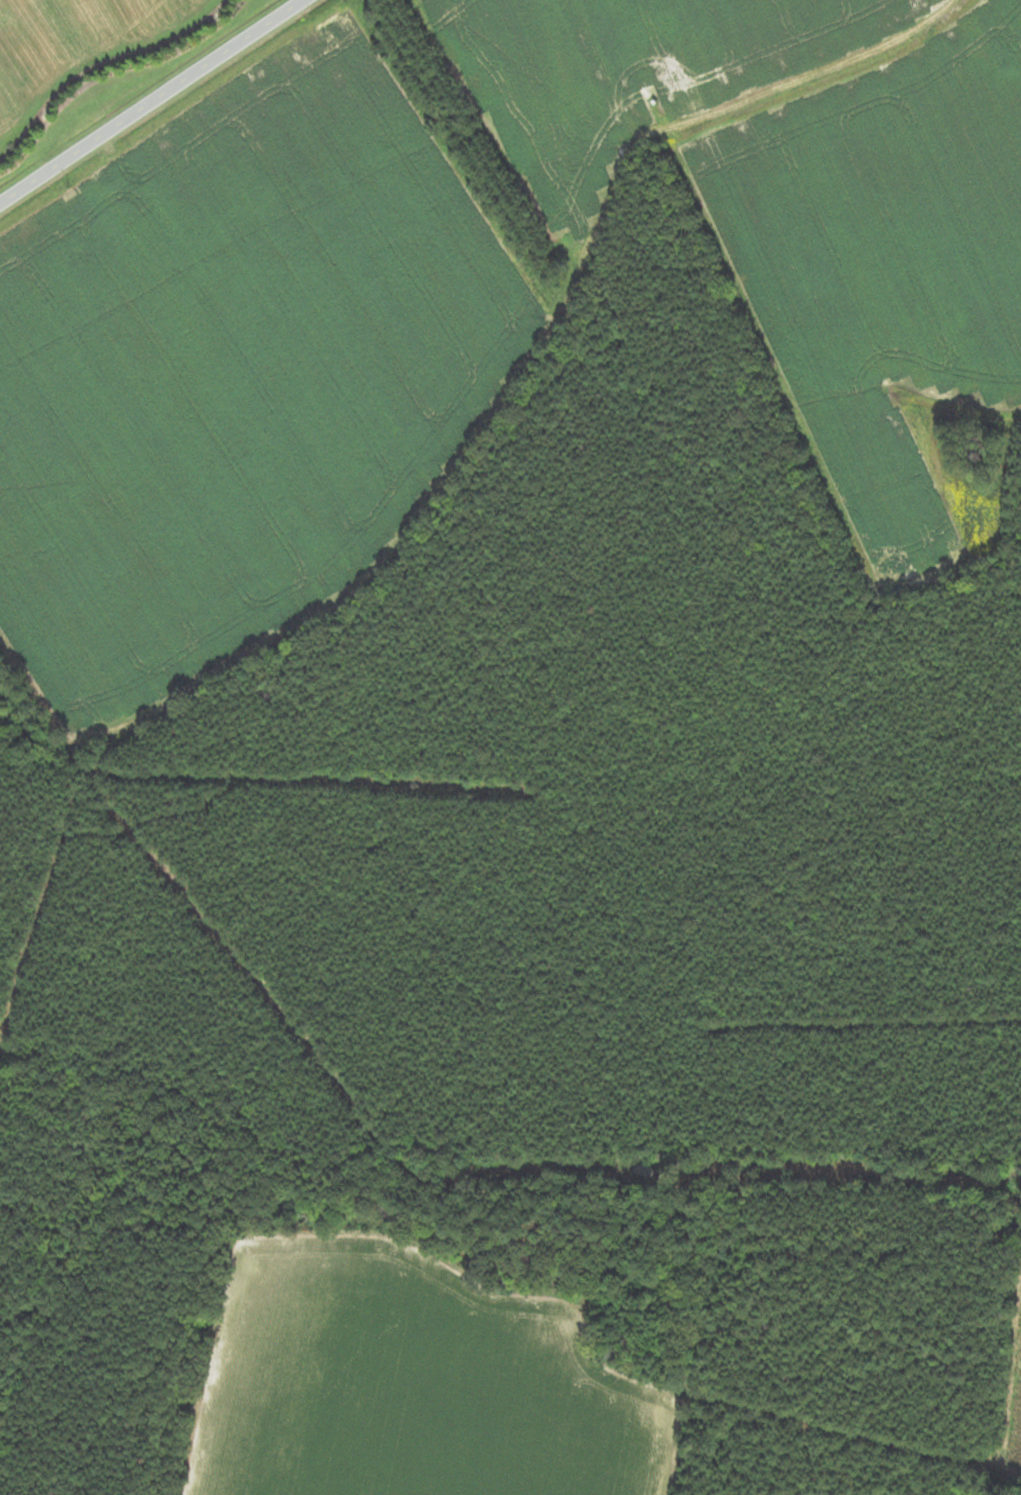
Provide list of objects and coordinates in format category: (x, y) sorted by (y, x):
road: (151, 102)

